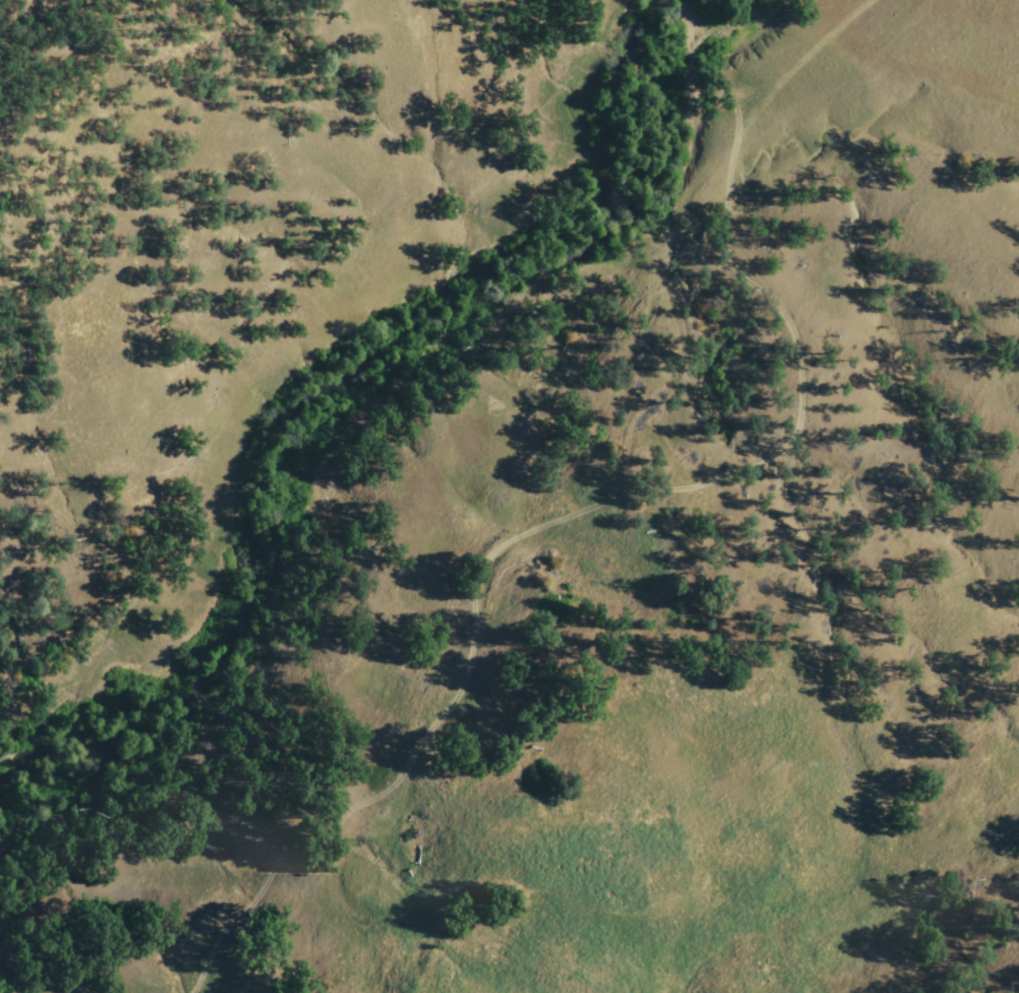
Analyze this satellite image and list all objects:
road: (567, 515)

